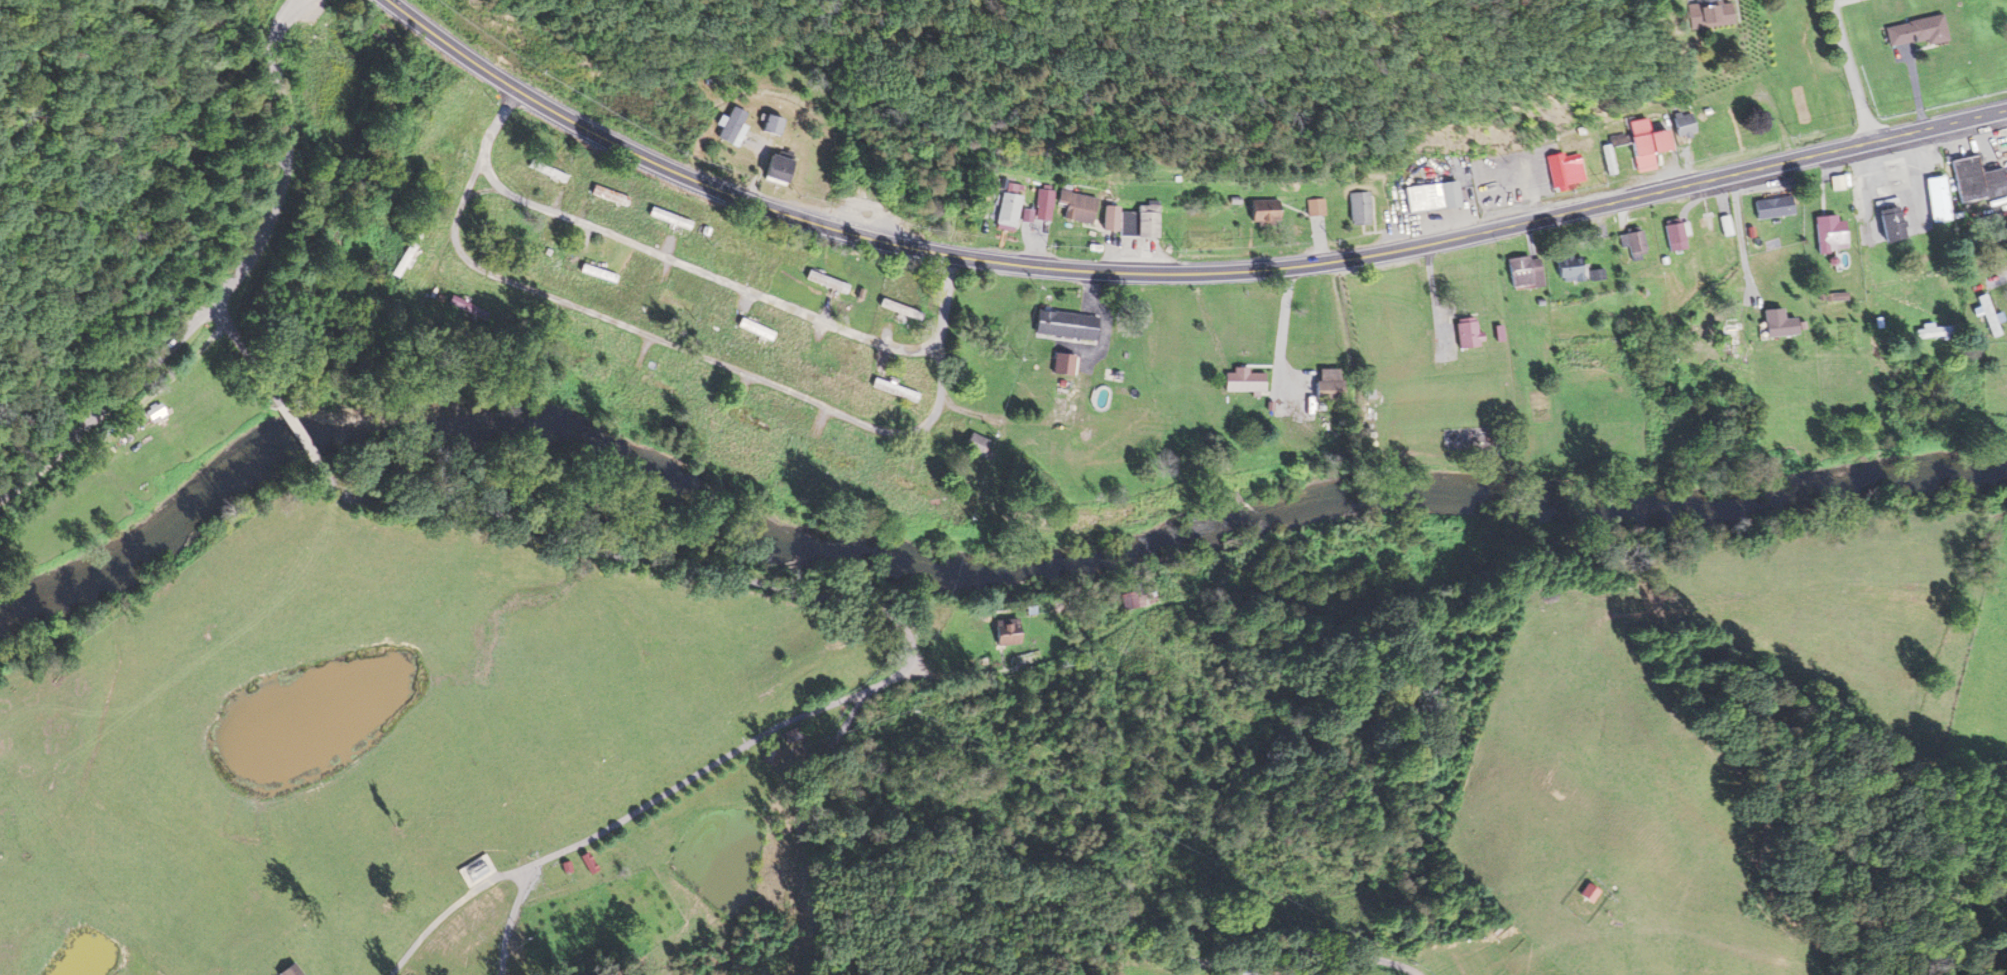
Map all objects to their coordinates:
building: (1718, 16)
building: (1920, 32)
road: (1850, 69)
building: (1690, 125)
building: (735, 126)
building: (778, 126)
building: (1653, 144)
road: (284, 153)
building: (1611, 160)
building: (783, 170)
building: (550, 171)
building: (1563, 171)
building: (1975, 181)
road: (481, 192)
building: (613, 196)
building: (1437, 197)
building: (1046, 199)
building: (1933, 200)
building: (1081, 206)
building: (1317, 207)
building: (1362, 208)
building: (1770, 208)
building: (1011, 210)
building: (1270, 212)
building: (673, 219)
building: (1115, 219)
building: (1145, 223)
building: (1884, 224)
building: (1827, 234)
building: (1672, 235)
building: (1639, 242)
road: (702, 271)
road: (1174, 273)
building: (1528, 273)
building: (1580, 273)
building: (830, 282)
building: (679, 303)
building: (905, 310)
building: (1987, 315)
building: (1774, 324)
building: (1070, 325)
building: (759, 329)
building: (1934, 332)
building: (1472, 334)
building: (575, 350)
road: (686, 350)
road: (252, 355)
building: (822, 362)
building: (1250, 381)
building: (663, 386)
building: (1334, 386)
building: (897, 390)
building: (159, 412)
road: (121, 414)
road: (976, 414)
building: (752, 420)
road: (304, 437)
building: (980, 445)
building: (914, 486)
river: (965, 583)
building: (1129, 602)
building: (1011, 633)
road: (848, 727)
building: (772, 756)
building: (592, 864)
building: (1593, 892)
building: (295, 970)

